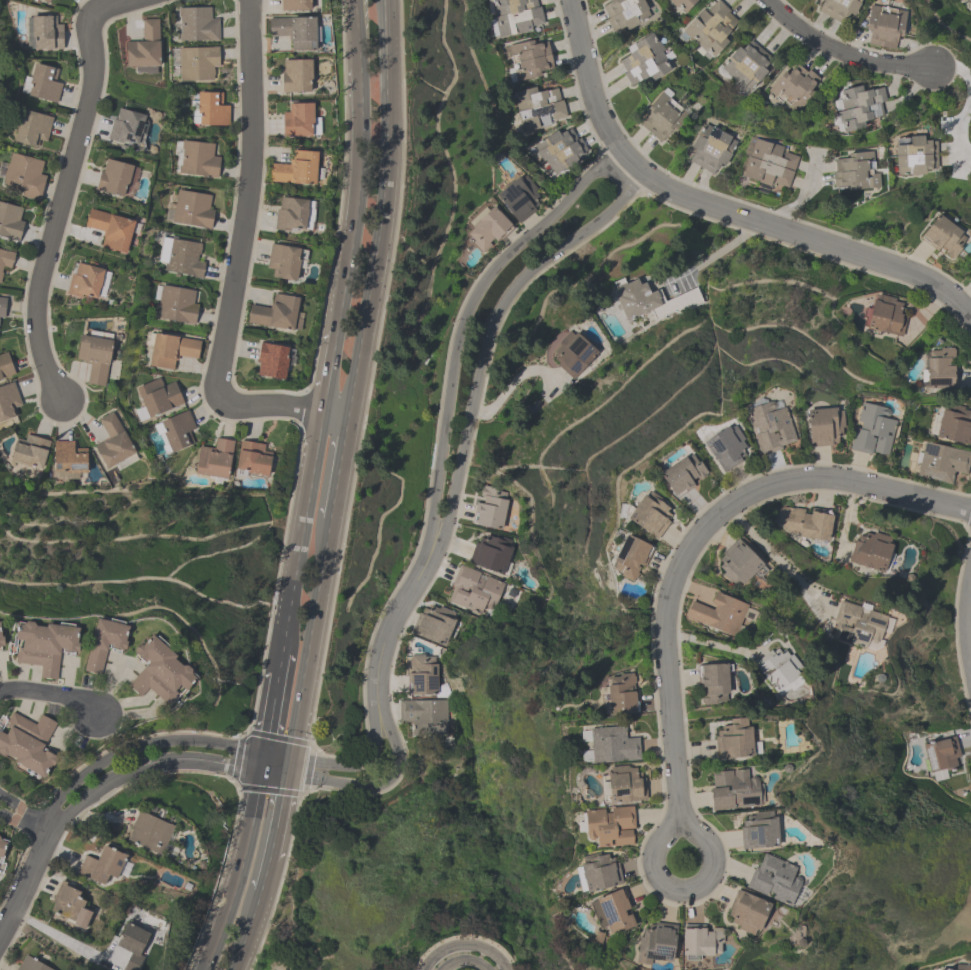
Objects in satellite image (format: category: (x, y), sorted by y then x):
building: (60, 0)
building: (959, 0)
building: (45, 1)
building: (683, 4)
building: (294, 5)
building: (837, 9)
building: (625, 13)
building: (513, 17)
building: (197, 24)
building: (884, 27)
building: (710, 28)
building: (294, 31)
building: (43, 33)
building: (144, 48)
road: (841, 52)
building: (528, 60)
building: (644, 61)
building: (197, 63)
building: (746, 65)
building: (296, 76)
building: (41, 84)
road: (590, 85)
building: (794, 86)
road: (967, 99)
building: (859, 107)
building: (538, 108)
building: (211, 109)
building: (662, 117)
building: (297, 121)
building: (127, 127)
building: (32, 128)
building: (710, 149)
building: (559, 150)
building: (914, 155)
building: (198, 159)
road: (361, 166)
building: (768, 166)
road: (626, 167)
building: (295, 169)
road: (386, 169)
building: (855, 171)
building: (24, 175)
building: (113, 178)
road: (64, 186)
road: (800, 197)
road: (248, 198)
building: (518, 198)
building: (192, 209)
building: (291, 214)
building: (10, 221)
building: (110, 230)
building: (488, 230)
road: (802, 237)
building: (942, 237)
road: (714, 254)
building: (184, 258)
building: (6, 259)
building: (284, 262)
building: (85, 282)
building: (650, 301)
building: (176, 305)
building: (2, 307)
building: (276, 314)
building: (884, 316)
building: (171, 350)
building: (572, 354)
building: (95, 357)
building: (271, 362)
building: (5, 366)
building: (939, 370)
road: (330, 371)
road: (357, 376)
road: (511, 387)
building: (158, 395)
building: (8, 400)
road: (268, 405)
road: (336, 413)
building: (954, 425)
building: (824, 426)
building: (769, 428)
building: (177, 429)
building: (871, 430)
building: (113, 440)
building: (726, 449)
building: (29, 452)
building: (68, 457)
building: (252, 457)
building: (214, 459)
building: (941, 462)
road: (340, 468)
building: (682, 477)
building: (490, 508)
building: (649, 517)
building: (804, 523)
road: (304, 531)
road: (695, 537)
building: (870, 551)
building: (491, 553)
road: (424, 559)
building: (630, 559)
road: (776, 559)
building: (739, 563)
building: (474, 588)
building: (718, 613)
road: (969, 618)
building: (433, 624)
building: (856, 626)
road: (388, 631)
building: (1, 637)
building: (104, 639)
road: (311, 639)
building: (45, 642)
road: (706, 643)
road: (281, 661)
building: (160, 668)
building: (777, 671)
building: (421, 675)
building: (713, 683)
building: (620, 693)
road: (49, 694)
road: (272, 711)
building: (423, 717)
building: (733, 741)
building: (28, 742)
building: (612, 743)
road: (137, 747)
traffic signals: (264, 752)
building: (942, 753)
road: (277, 754)
traffic signals: (290, 757)
road: (262, 761)
road: (288, 765)
road: (144, 766)
road: (365, 766)
traffic signals: (260, 770)
road: (273, 772)
traffic signals: (287, 774)
building: (623, 783)
road: (374, 786)
building: (734, 790)
road: (23, 817)
road: (278, 817)
building: (610, 824)
building: (759, 829)
building: (149, 831)
building: (0, 837)
building: (2, 847)
building: (102, 864)
road: (240, 871)
building: (598, 871)
road: (266, 876)
building: (775, 878)
road: (24, 884)
road: (686, 886)
building: (71, 905)
building: (612, 909)
building: (747, 910)
road: (250, 931)
road: (62, 940)
building: (699, 940)
road: (463, 942)
building: (132, 943)
building: (656, 943)
road: (462, 958)
building: (30, 964)
building: (962, 967)
building: (943, 969)

